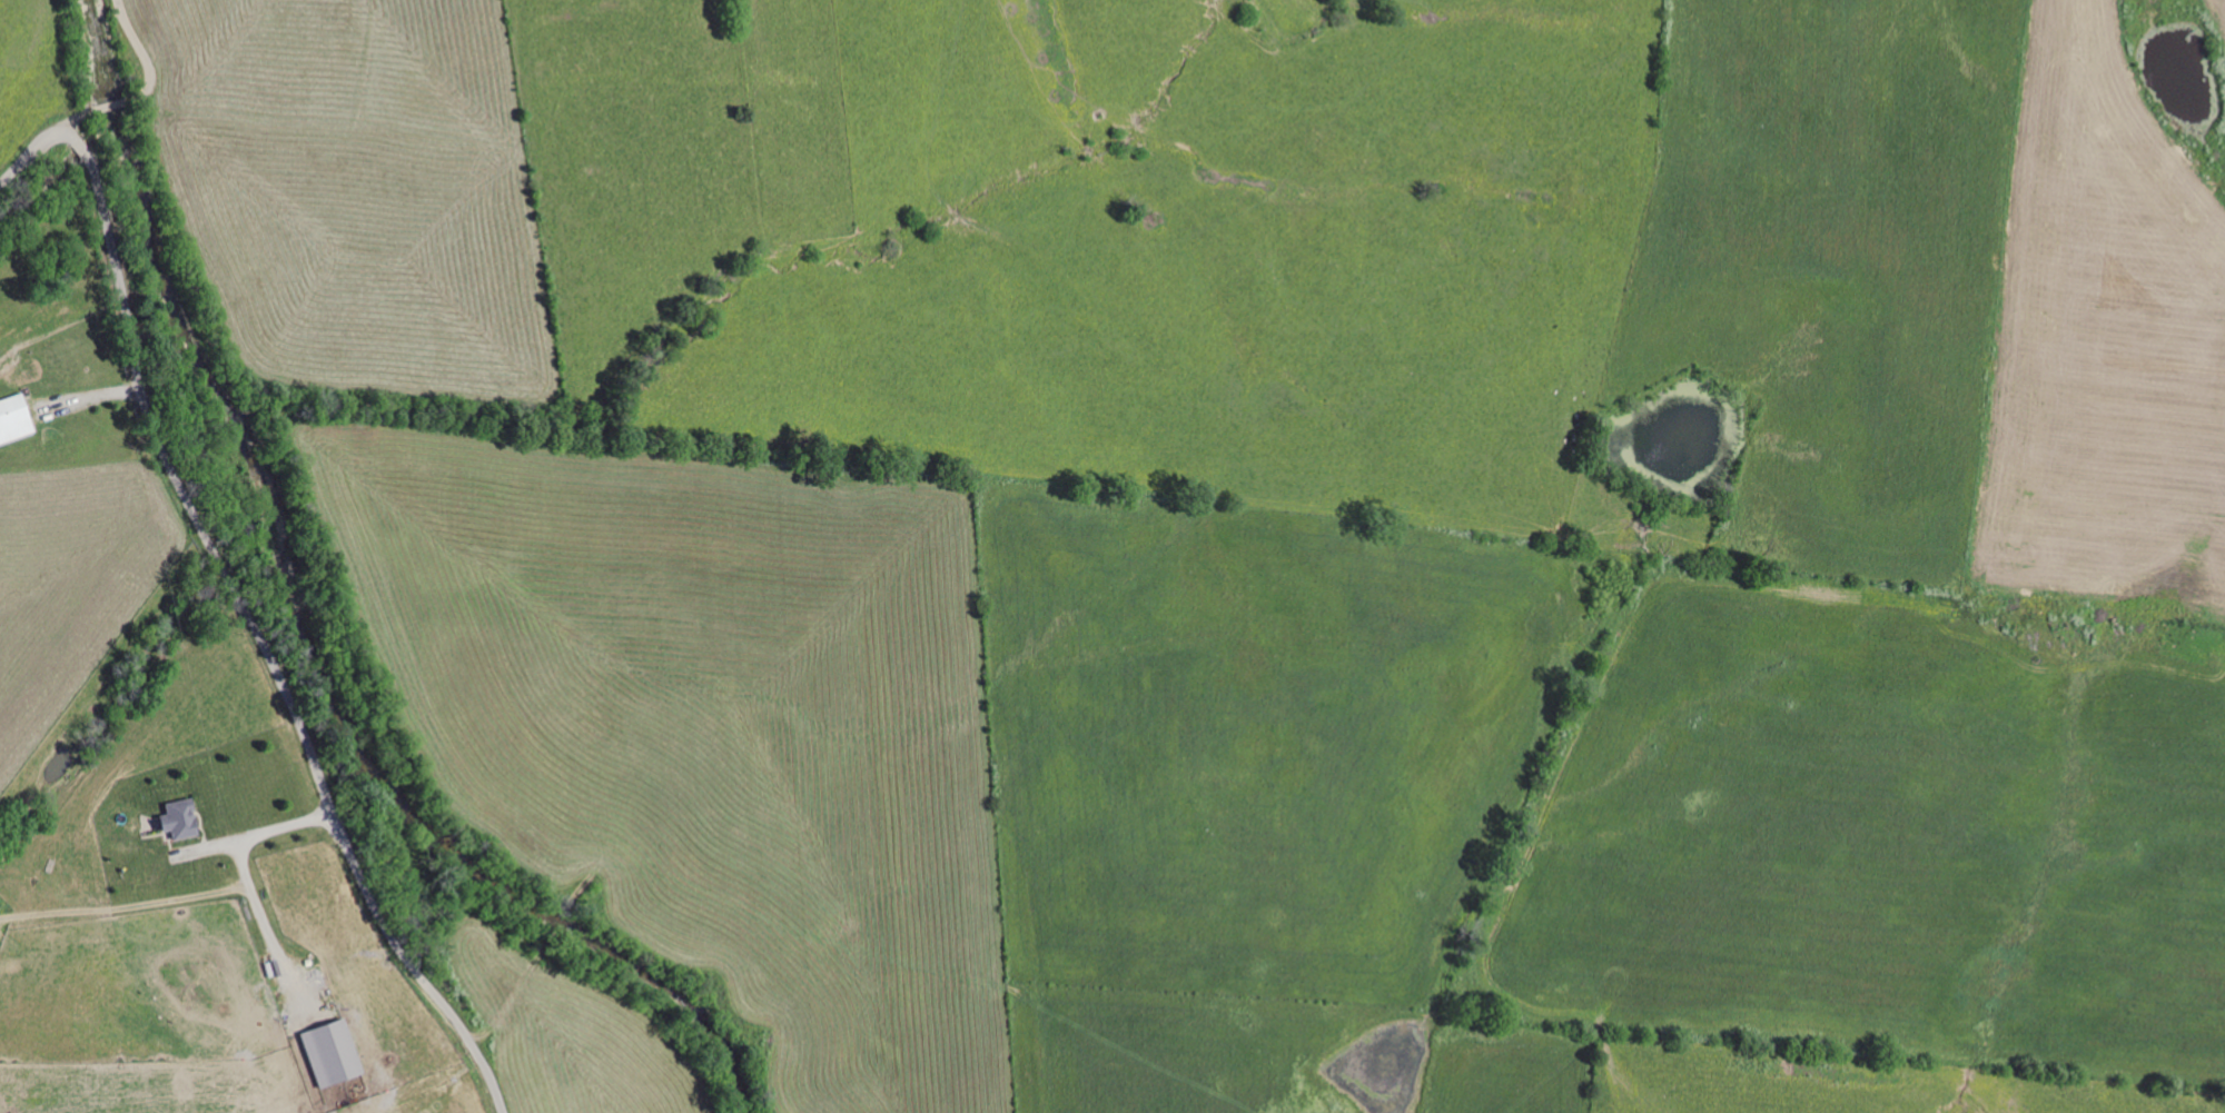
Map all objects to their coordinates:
road: (61, 76)
building: (11, 419)
road: (234, 602)
building: (175, 818)
building: (326, 1052)

